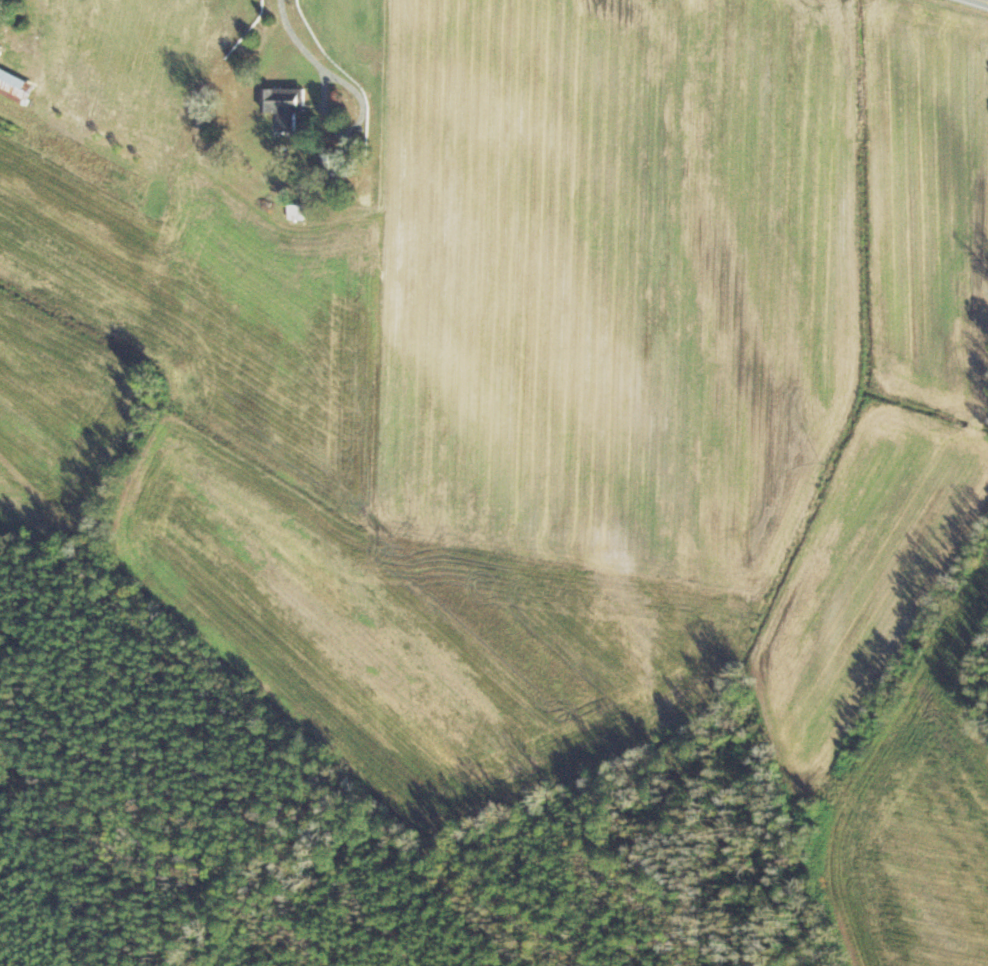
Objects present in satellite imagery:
road: (987, 0)
building: (15, 87)
building: (282, 106)
building: (333, 166)
building: (295, 213)

